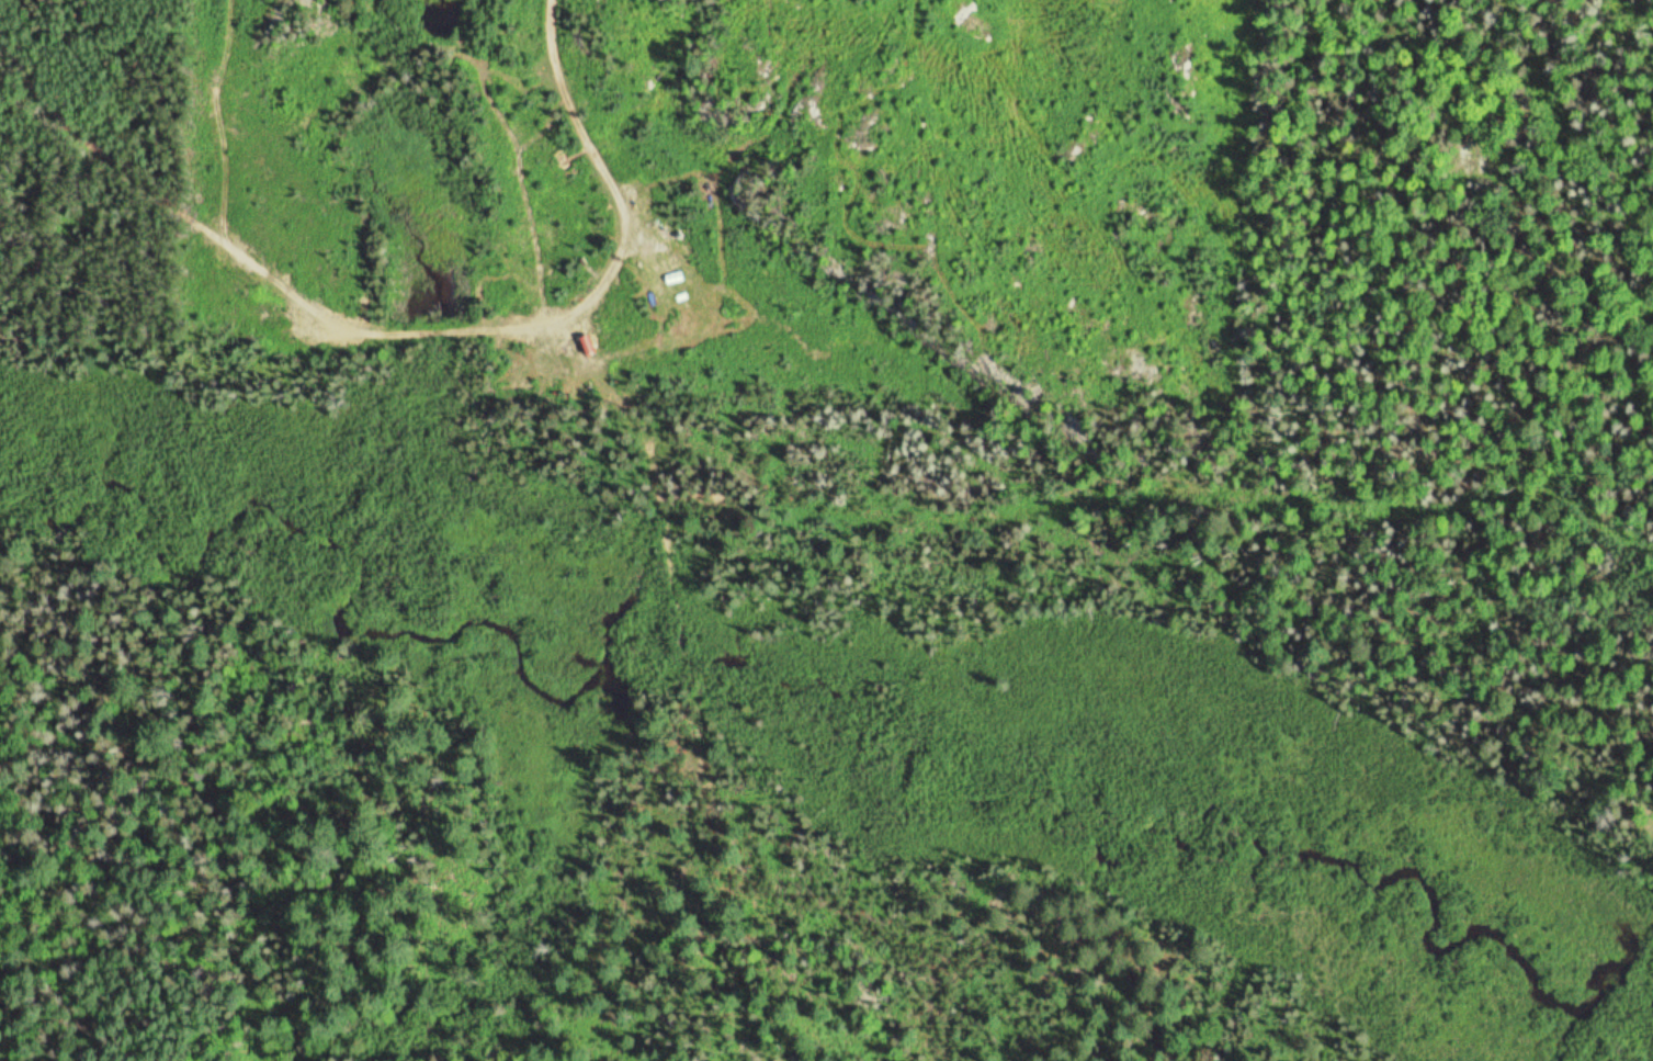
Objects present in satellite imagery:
road: (585, 126)
road: (273, 280)

